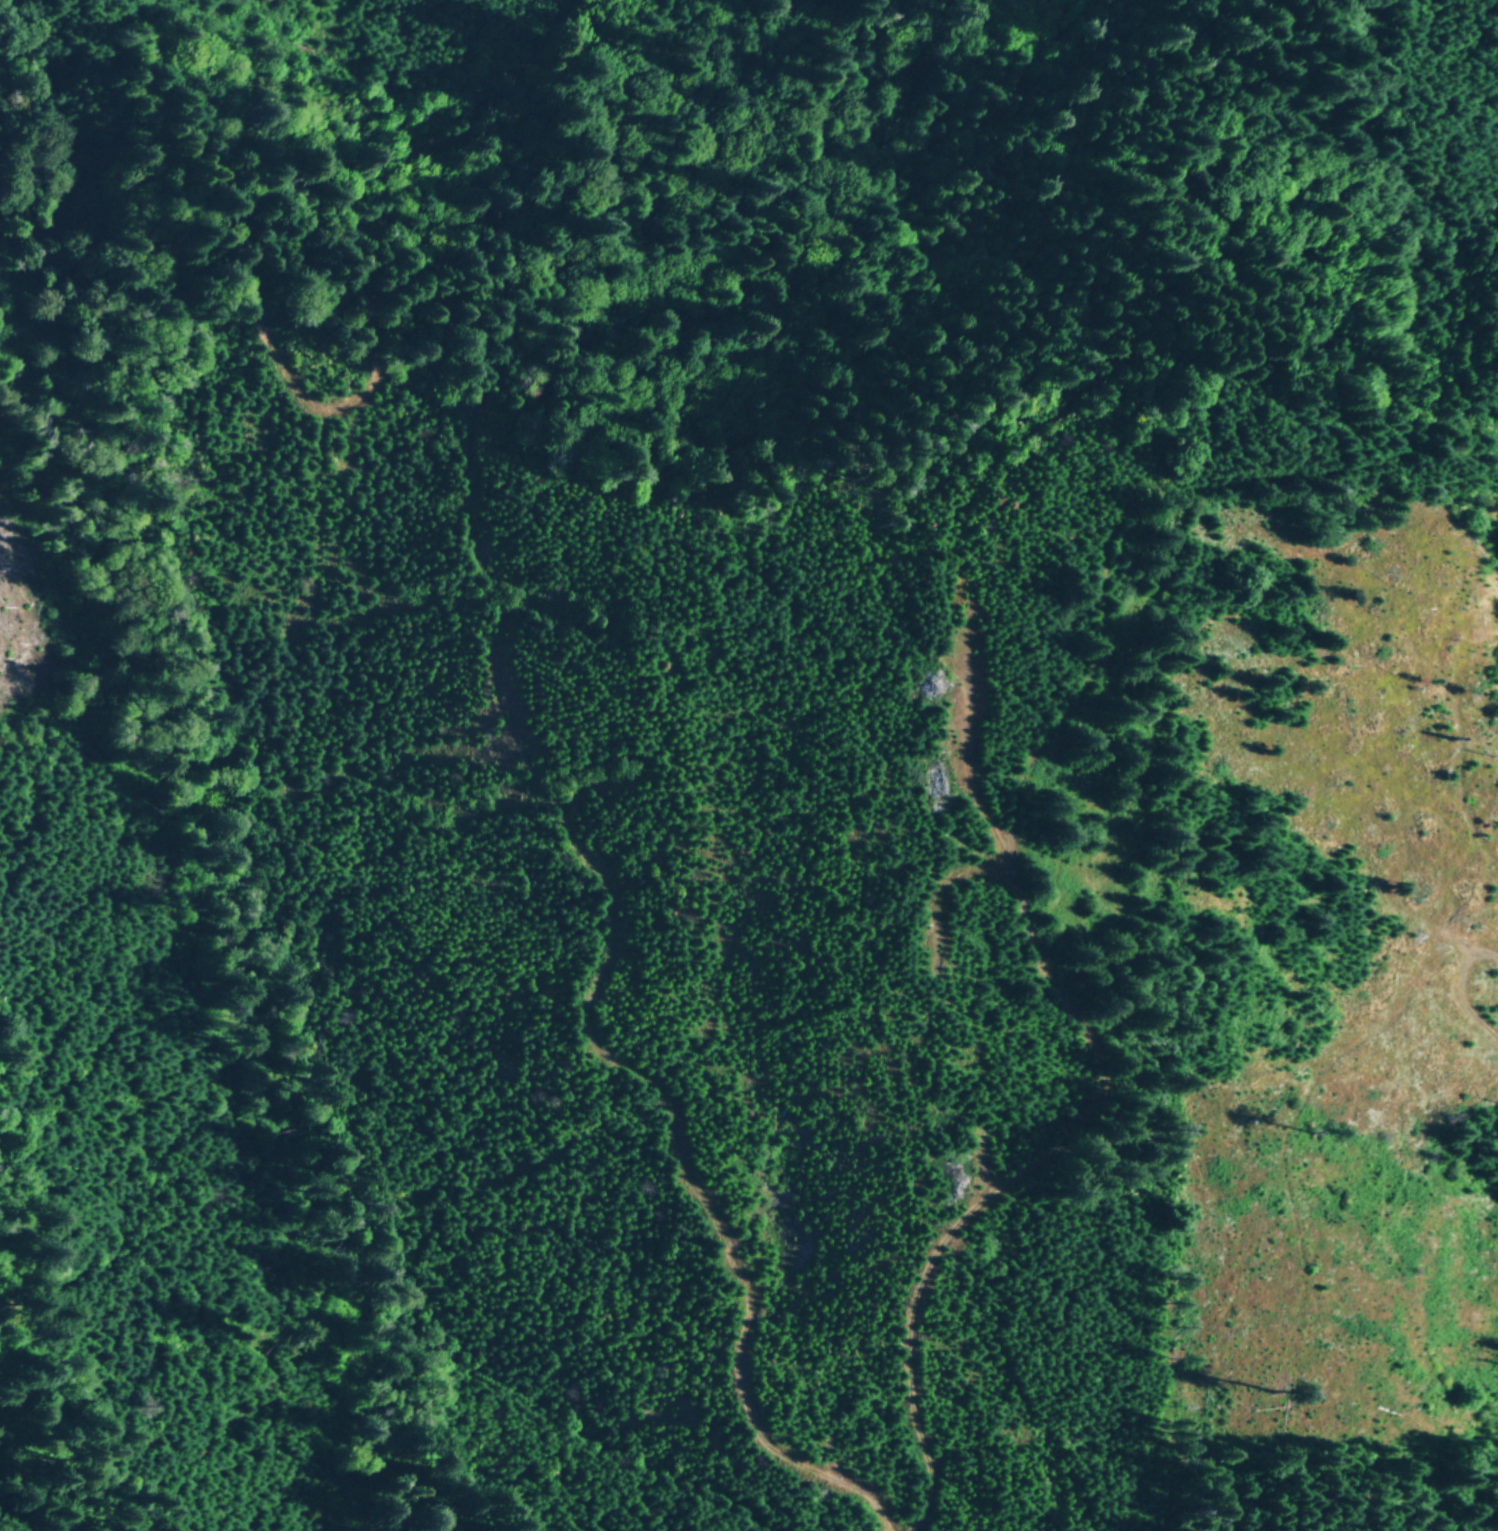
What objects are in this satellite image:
road: (1009, 1517)

